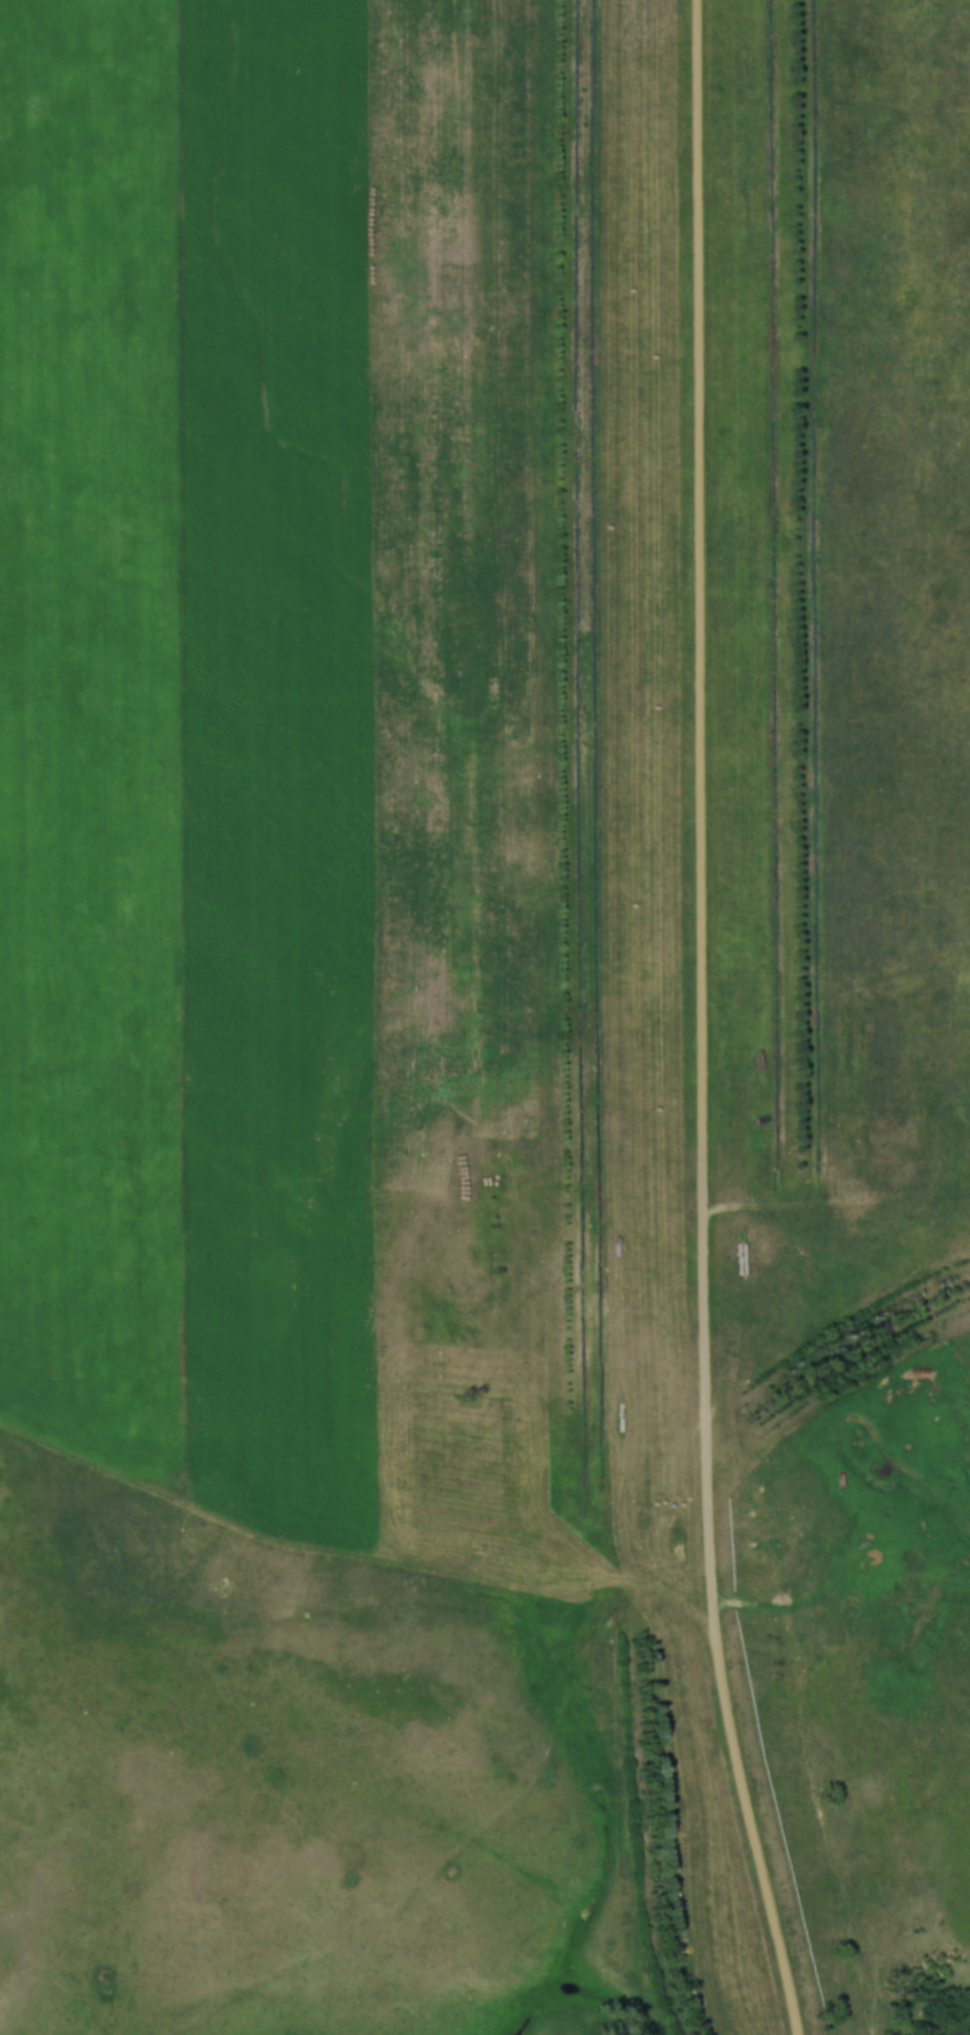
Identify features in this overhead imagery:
building: (106, 7)
building: (207, 613)
road: (697, 1021)
road: (303, 1611)

